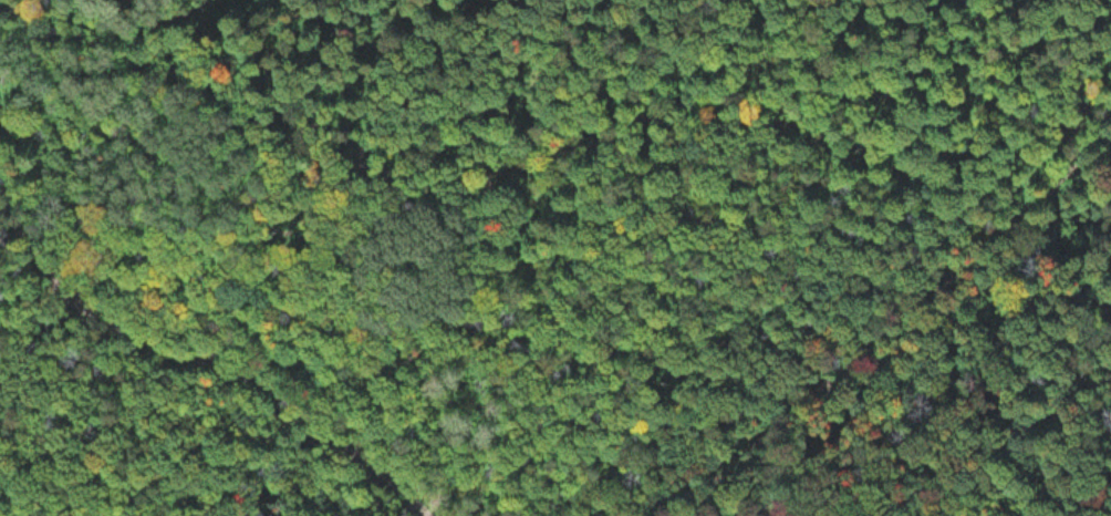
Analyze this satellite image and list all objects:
road: (893, 327)

